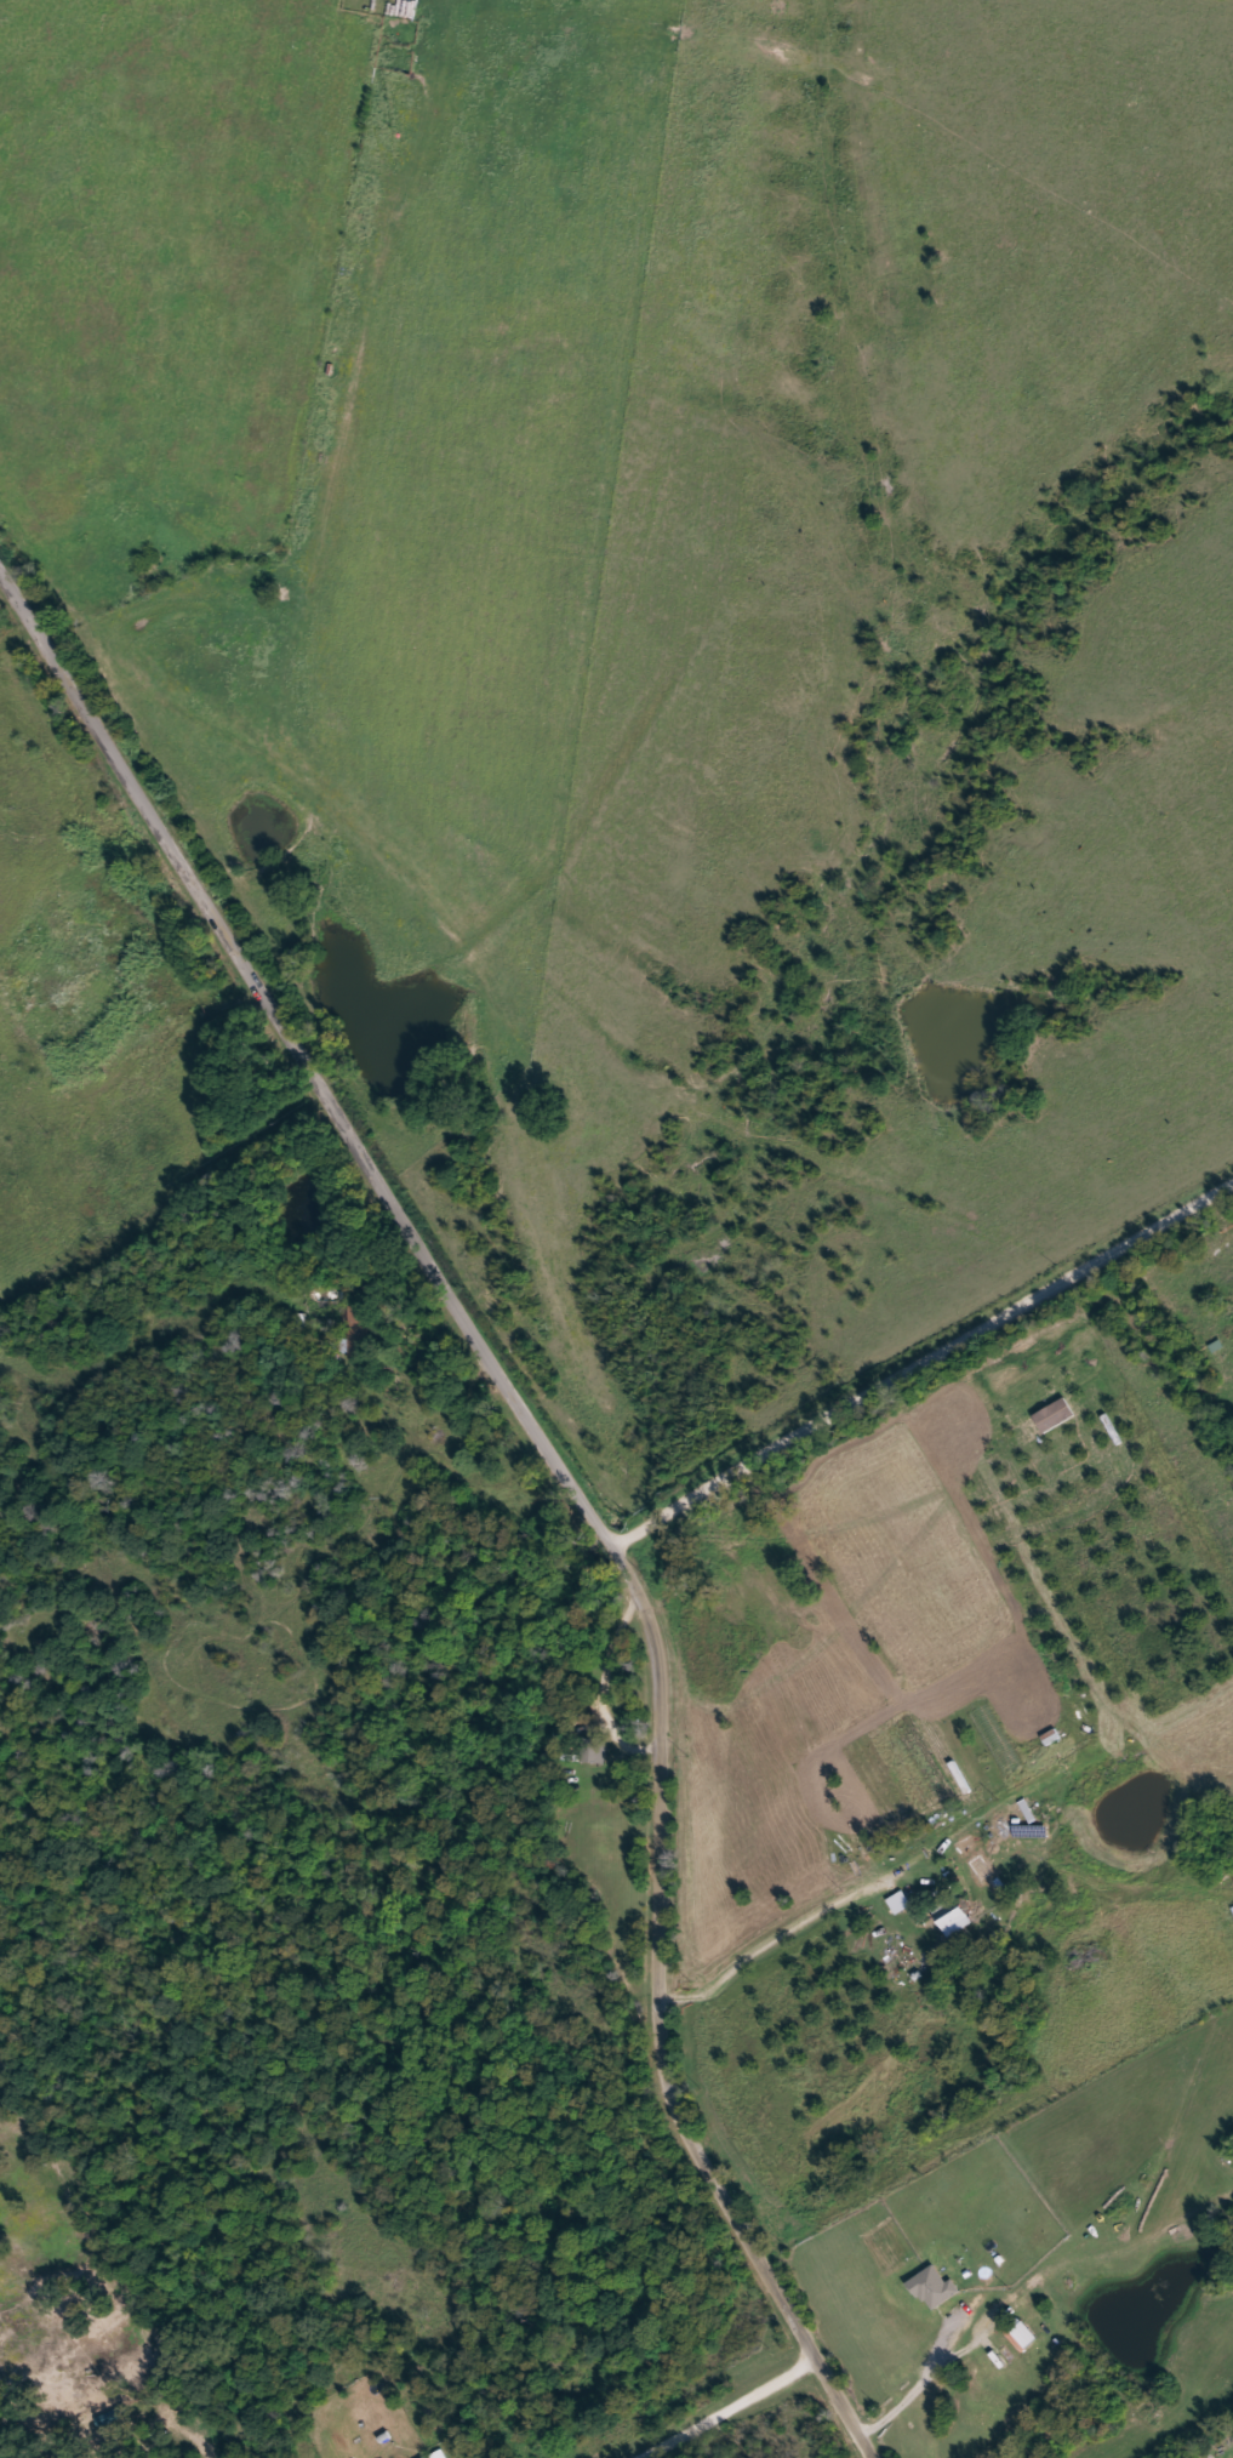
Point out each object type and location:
road: (306, 1056)
building: (358, 1334)
road: (920, 1358)
road: (809, 1624)
building: (594, 1751)
building: (900, 1903)
building: (953, 1916)
road: (660, 2023)
building: (934, 2288)
building: (1022, 2333)
road: (938, 2379)
building: (439, 2454)
building: (429, 2457)

